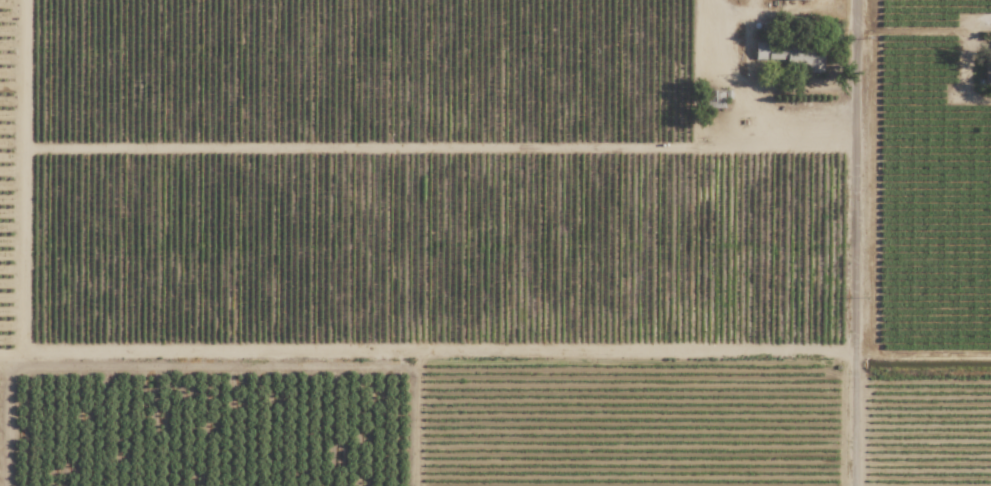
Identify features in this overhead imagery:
road: (915, 31)
building: (791, 55)
road: (780, 84)
road: (710, 143)
road: (859, 243)

